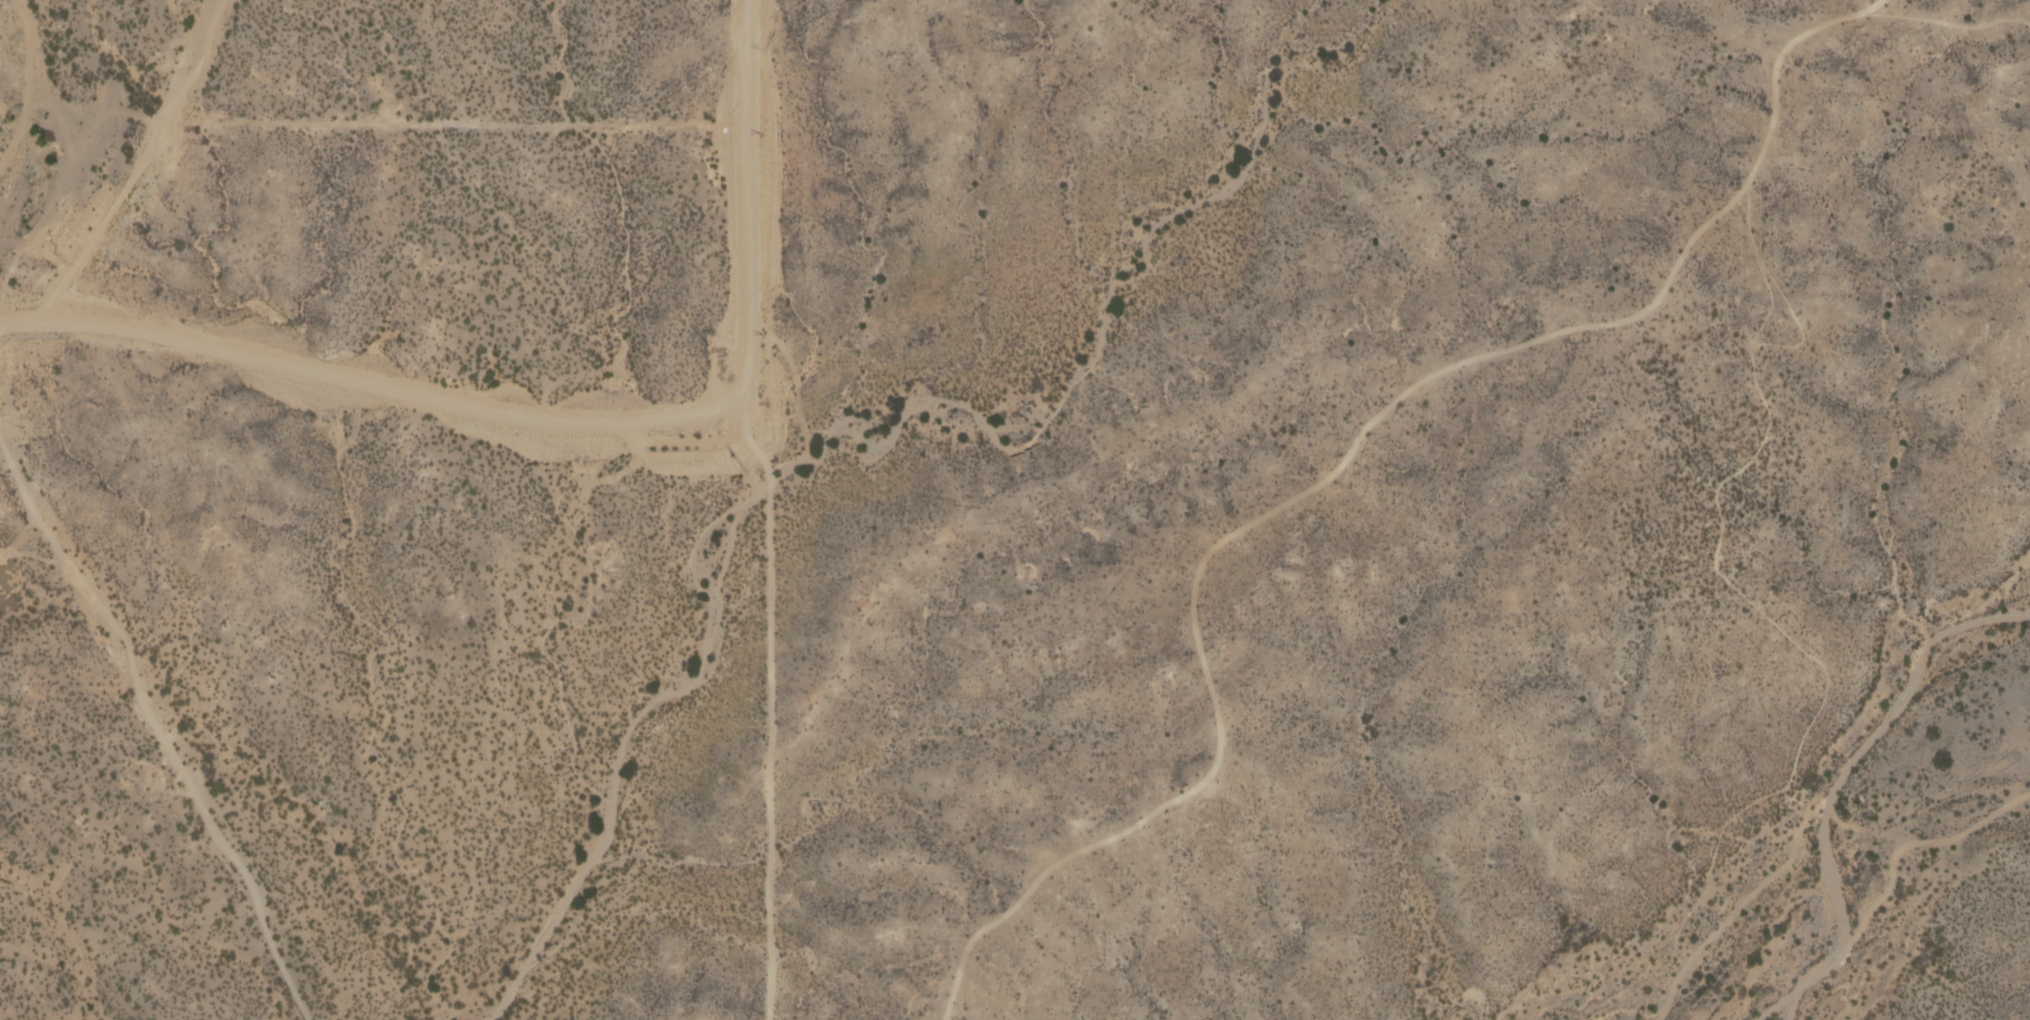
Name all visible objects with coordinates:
road: (129, 174)
road: (399, 401)
road: (767, 510)

